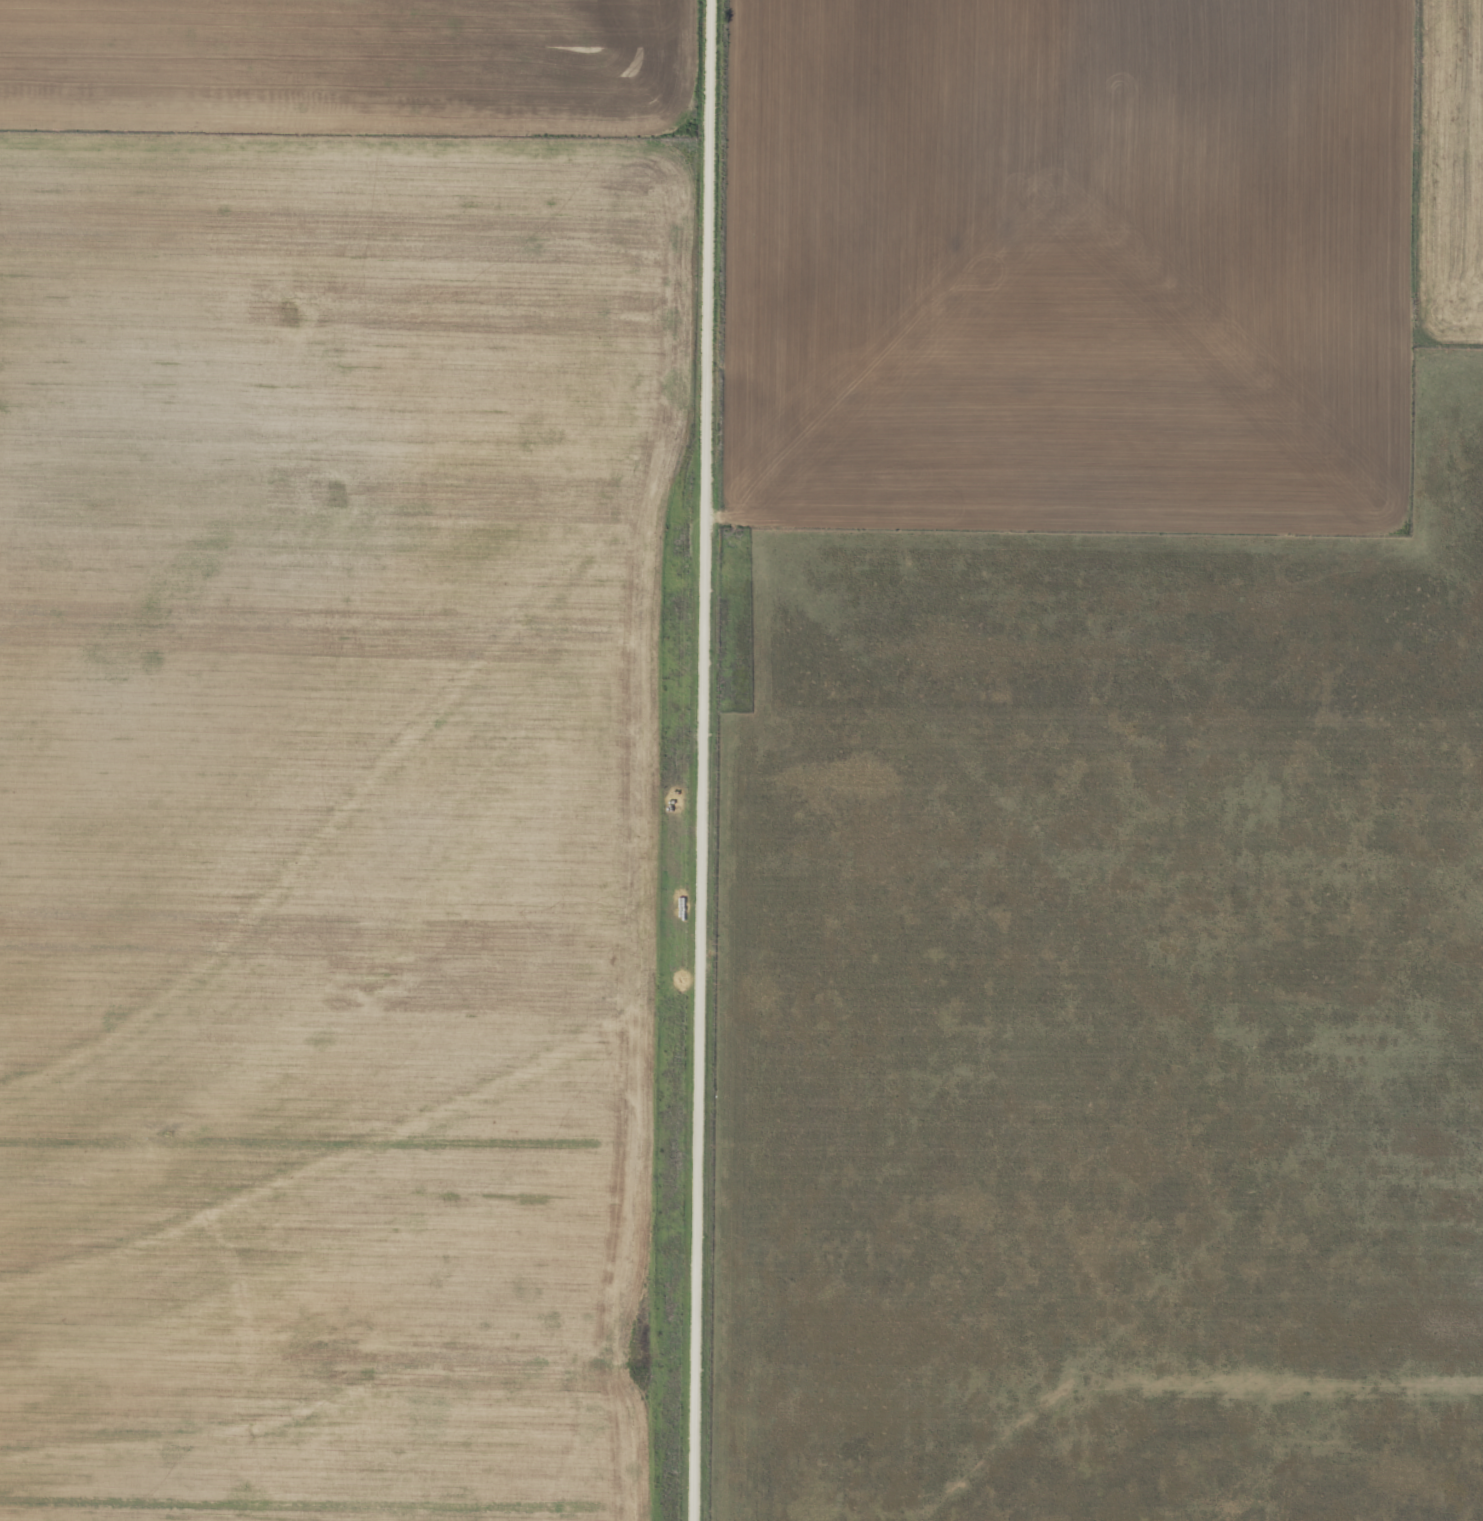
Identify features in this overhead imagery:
road: (705, 760)

